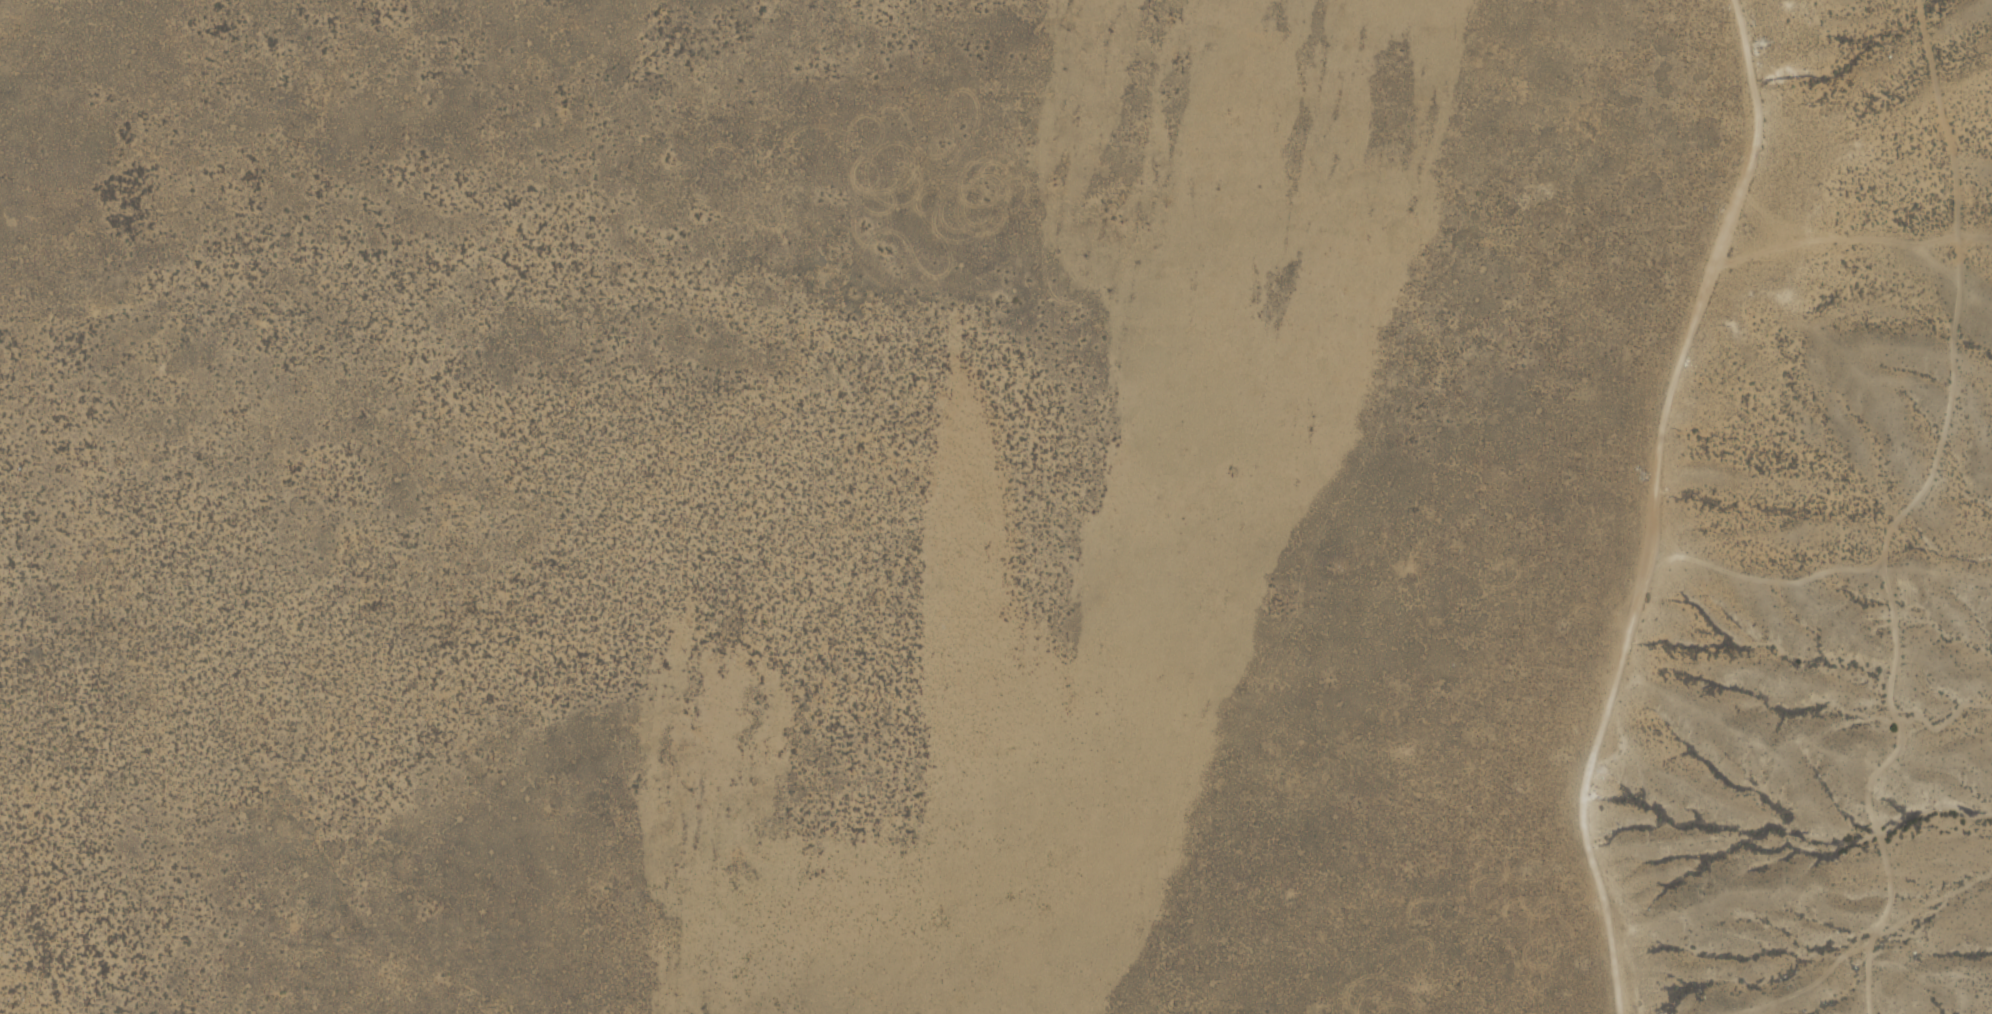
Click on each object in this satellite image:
road: (1657, 502)

